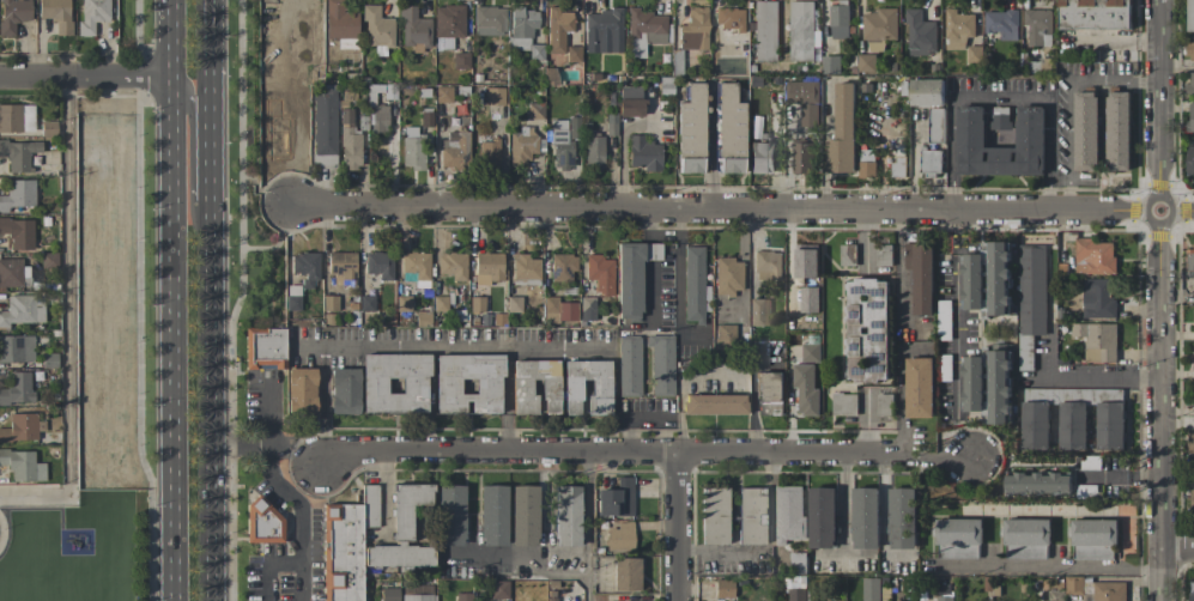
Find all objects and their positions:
building: (13, 14)
building: (55, 14)
building: (92, 14)
building: (1095, 14)
building: (1190, 16)
building: (728, 18)
building: (339, 20)
building: (448, 20)
building: (489, 20)
building: (840, 20)
building: (1002, 24)
building: (377, 28)
building: (522, 28)
building: (879, 28)
building: (1038, 28)
building: (557, 29)
building: (958, 29)
building: (413, 30)
building: (693, 30)
building: (765, 30)
building: (804, 30)
building: (602, 31)
building: (644, 31)
building: (920, 34)
building: (1190, 49)
building: (572, 54)
building: (974, 54)
building: (554, 59)
building: (460, 60)
building: (867, 62)
building: (831, 65)
road: (86, 77)
building: (1189, 85)
building: (630, 92)
building: (927, 92)
building: (442, 93)
building: (493, 96)
road: (1001, 97)
building: (805, 101)
building: (630, 108)
building: (534, 110)
building: (1190, 116)
building: (16, 117)
building: (1001, 117)
building: (380, 119)
building: (691, 121)
building: (729, 121)
building: (935, 125)
building: (1030, 127)
building: (48, 128)
building: (323, 129)
building: (1086, 130)
building: (1117, 130)
building: (843, 132)
building: (348, 142)
building: (523, 144)
building: (562, 145)
road: (198, 146)
building: (411, 147)
building: (454, 150)
building: (487, 152)
building: (18, 153)
building: (594, 153)
building: (643, 153)
building: (762, 157)
building: (802, 157)
building: (1190, 160)
building: (931, 162)
building: (867, 163)
building: (690, 165)
building: (731, 165)
building: (898, 166)
building: (18, 194)
road: (743, 208)
building: (18, 233)
road: (867, 238)
road: (278, 241)
building: (847, 255)
building: (884, 255)
building: (1093, 256)
building: (1190, 259)
building: (806, 263)
building: (340, 265)
building: (378, 265)
building: (416, 265)
building: (451, 265)
building: (768, 265)
building: (525, 267)
building: (562, 267)
road: (899, 267)
building: (305, 268)
building: (487, 268)
building: (13, 273)
building: (600, 273)
building: (728, 275)
building: (921, 275)
building: (632, 277)
building: (693, 284)
building: (1000, 291)
building: (292, 298)
building: (1098, 298)
road: (174, 299)
road: (212, 299)
building: (810, 299)
building: (1031, 299)
road: (1159, 299)
road: (138, 300)
road: (236, 300)
building: (514, 303)
building: (587, 309)
building: (23, 310)
building: (558, 310)
building: (759, 311)
road: (958, 314)
road: (69, 317)
building: (867, 330)
building: (725, 336)
building: (1098, 341)
road: (453, 345)
building: (17, 348)
building: (263, 348)
building: (811, 352)
building: (629, 365)
building: (661, 365)
road: (1097, 376)
building: (394, 383)
building: (468, 383)
building: (974, 383)
building: (521, 387)
building: (587, 387)
building: (1000, 387)
building: (17, 388)
road: (902, 388)
building: (920, 388)
building: (301, 389)
building: (806, 389)
building: (344, 390)
building: (769, 393)
road: (509, 400)
building: (844, 403)
building: (714, 405)
building: (1036, 425)
building: (1072, 425)
building: (1110, 425)
building: (19, 427)
building: (1190, 441)
road: (296, 449)
road: (644, 455)
building: (22, 466)
building: (1038, 484)
road: (287, 491)
building: (1193, 497)
building: (616, 499)
road: (844, 504)
building: (407, 508)
building: (789, 514)
building: (450, 515)
building: (523, 515)
building: (566, 515)
building: (492, 516)
building: (714, 516)
building: (751, 516)
building: (823, 517)
building: (866, 517)
building: (902, 518)
building: (262, 522)
road: (587, 528)
road: (678, 528)
building: (620, 536)
building: (958, 538)
building: (1026, 539)
building: (1095, 539)
building: (346, 545)
road: (1177, 548)
road: (842, 552)
building: (396, 556)
building: (798, 561)
road: (266, 564)
road: (1045, 567)
building: (626, 575)
building: (1074, 584)
building: (723, 588)
building: (499, 589)
building: (871, 589)
building: (1109, 590)
building: (1192, 591)
building: (389, 594)
building: (798, 594)
building: (1056, 595)
building: (463, 596)
building: (418, 597)
building: (945, 599)

